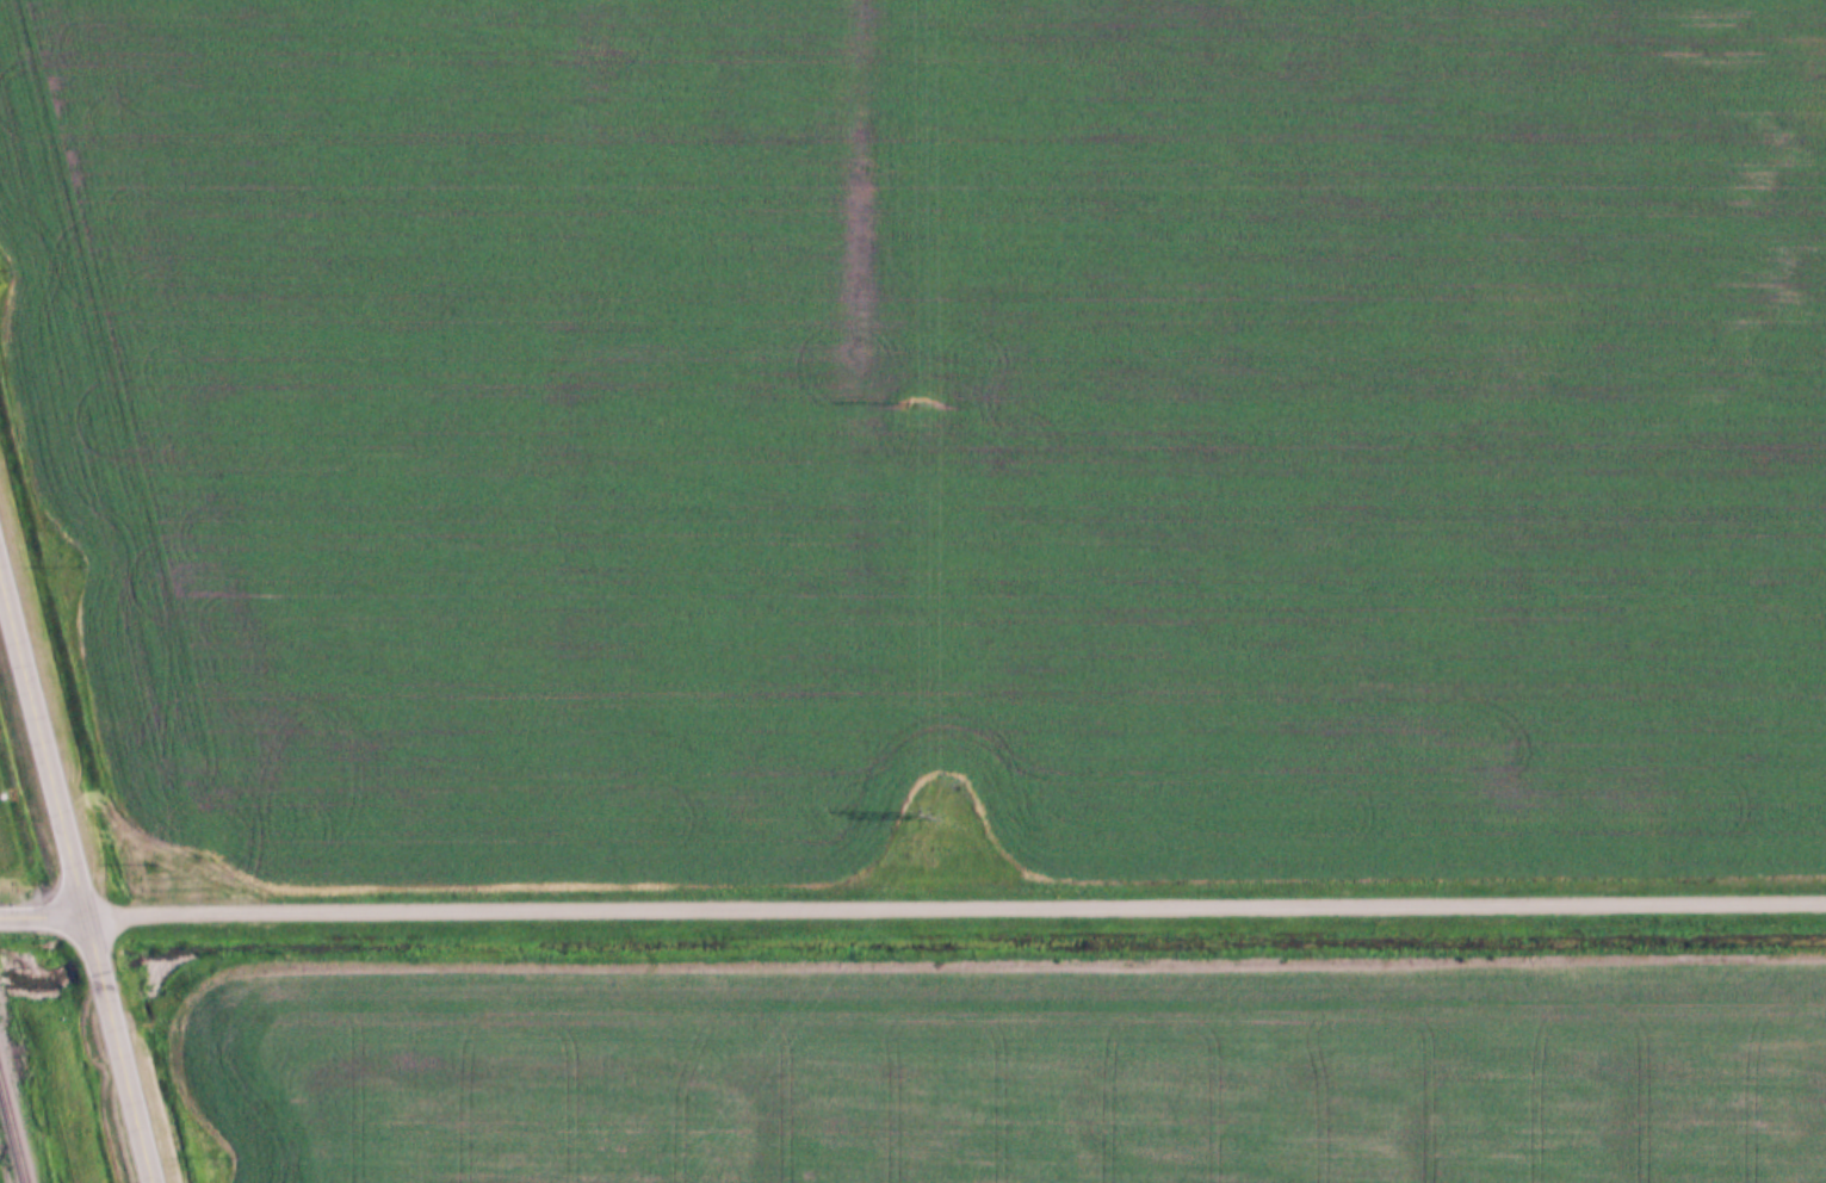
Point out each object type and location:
power tower: (914, 403)
road: (38, 756)
power tower: (924, 812)
road: (951, 903)
road: (38, 915)
road: (123, 1046)
railway: (11, 1139)

